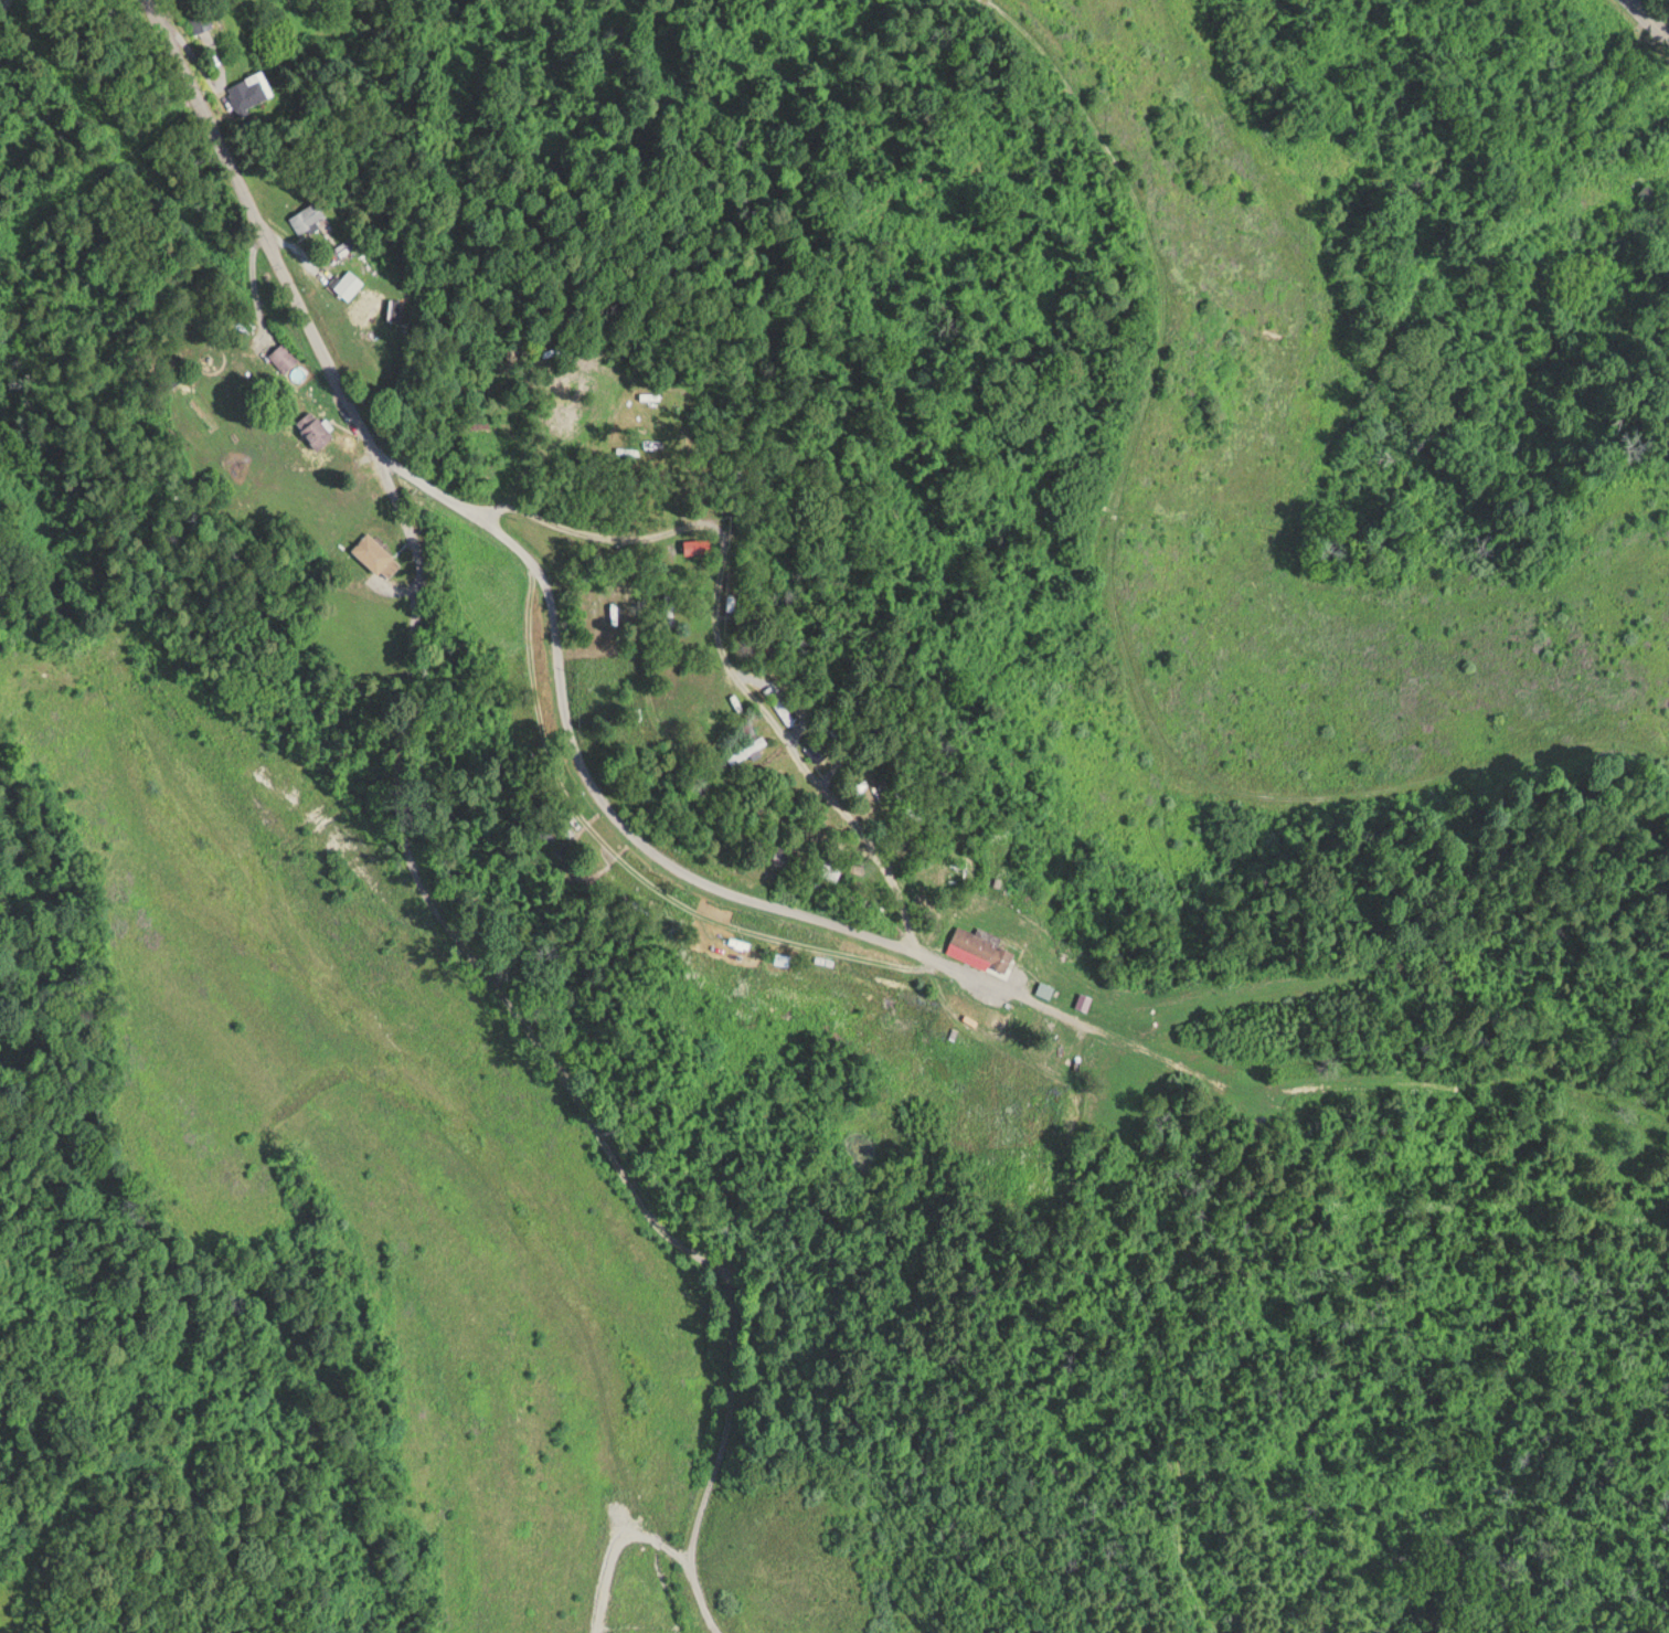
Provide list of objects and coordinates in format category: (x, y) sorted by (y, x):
road: (1652, 15)
building: (248, 89)
building: (1648, 192)
building: (310, 220)
building: (285, 354)
building: (481, 424)
building: (316, 427)
building: (378, 554)
road: (177, 629)
building: (780, 702)
road: (437, 847)
building: (565, 849)
building: (830, 865)
building: (982, 946)
building: (1071, 1116)

